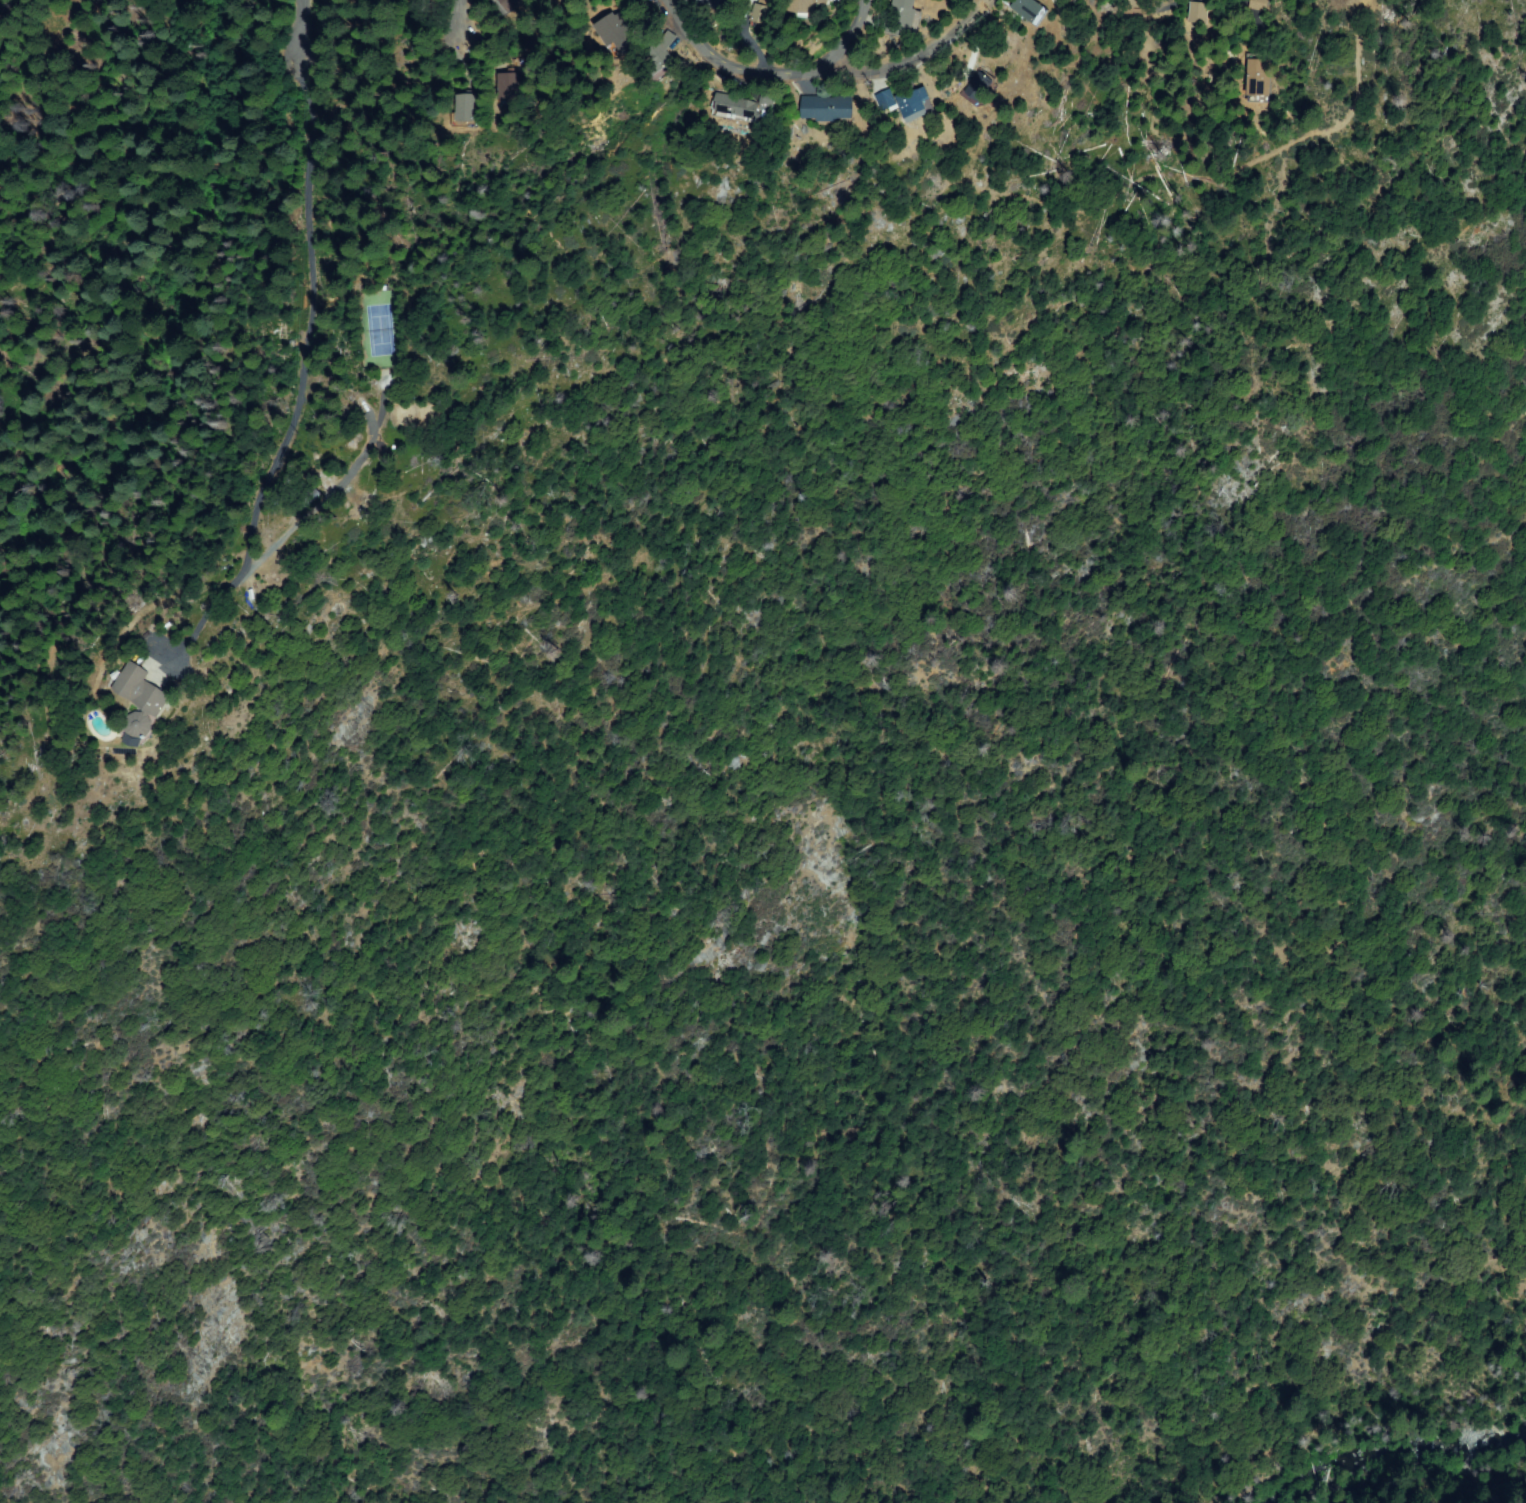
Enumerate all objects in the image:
building: (707, 2)
building: (3, 3)
building: (508, 3)
building: (1258, 3)
building: (416, 5)
building: (802, 5)
building: (1139, 6)
building: (1029, 10)
building: (1199, 11)
building: (760, 13)
building: (905, 18)
building: (615, 32)
road: (455, 34)
road: (841, 34)
road: (284, 45)
road: (910, 53)
building: (658, 58)
road: (727, 60)
building: (1258, 77)
building: (503, 84)
building: (979, 87)
building: (768, 98)
building: (907, 102)
building: (738, 106)
building: (463, 107)
building: (828, 107)
building: (139, 700)
river: (1419, 1455)

